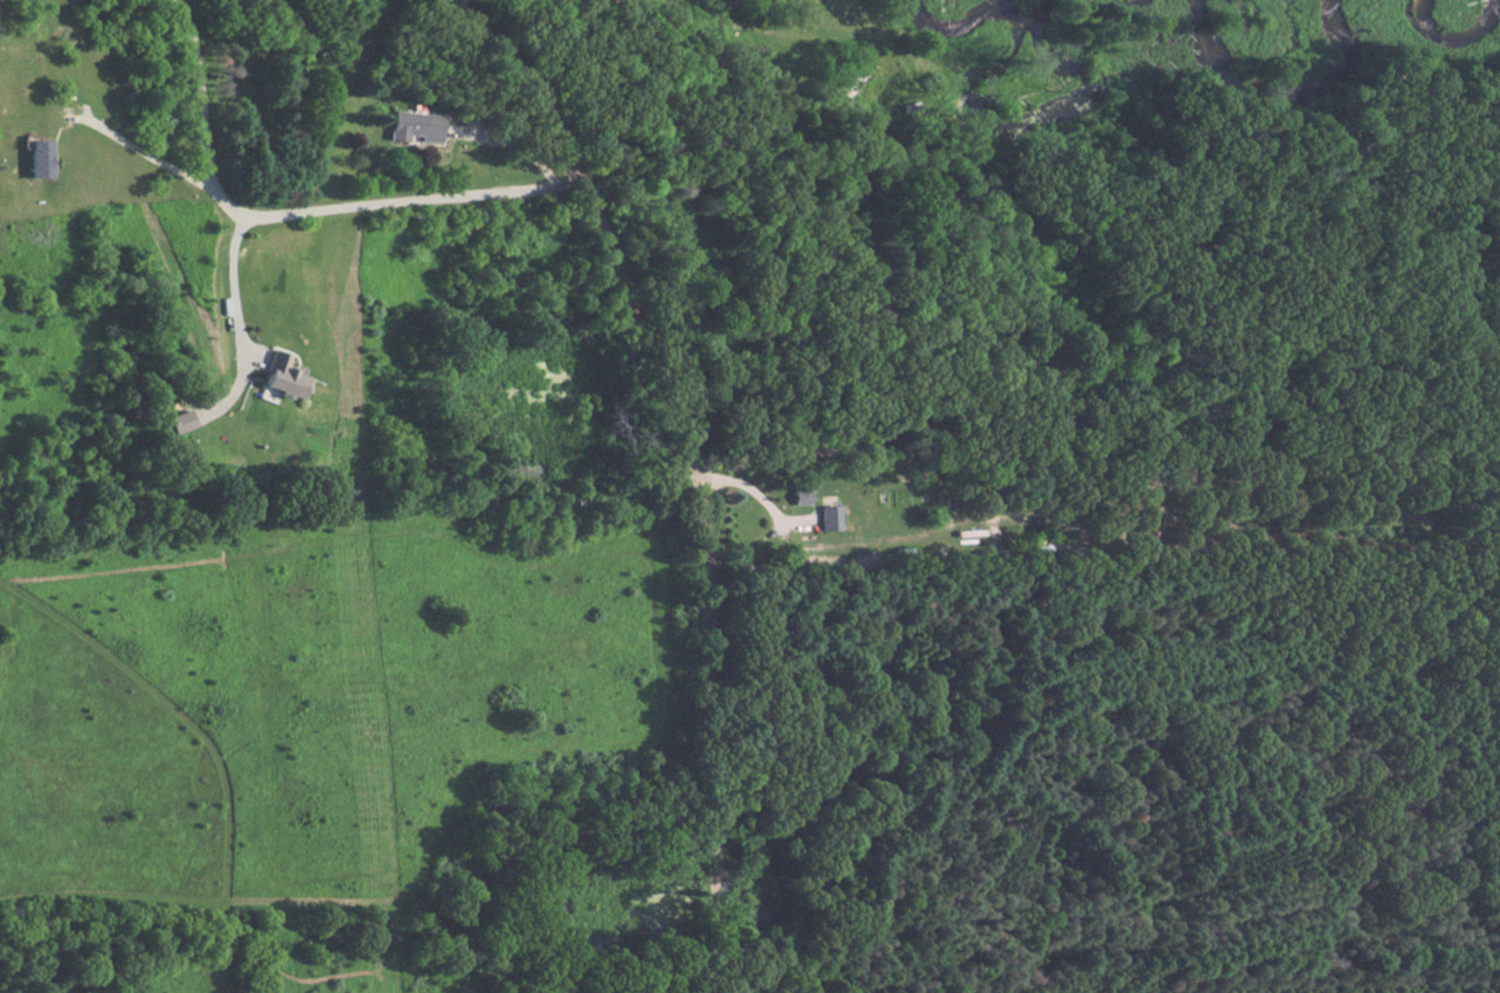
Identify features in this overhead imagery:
road: (567, 3)
building: (411, 127)
road: (508, 144)
road: (149, 159)
building: (38, 160)
road: (299, 215)
road: (233, 282)
building: (279, 378)
building: (181, 422)
road: (693, 464)
building: (801, 487)
road: (758, 496)
building: (829, 519)

